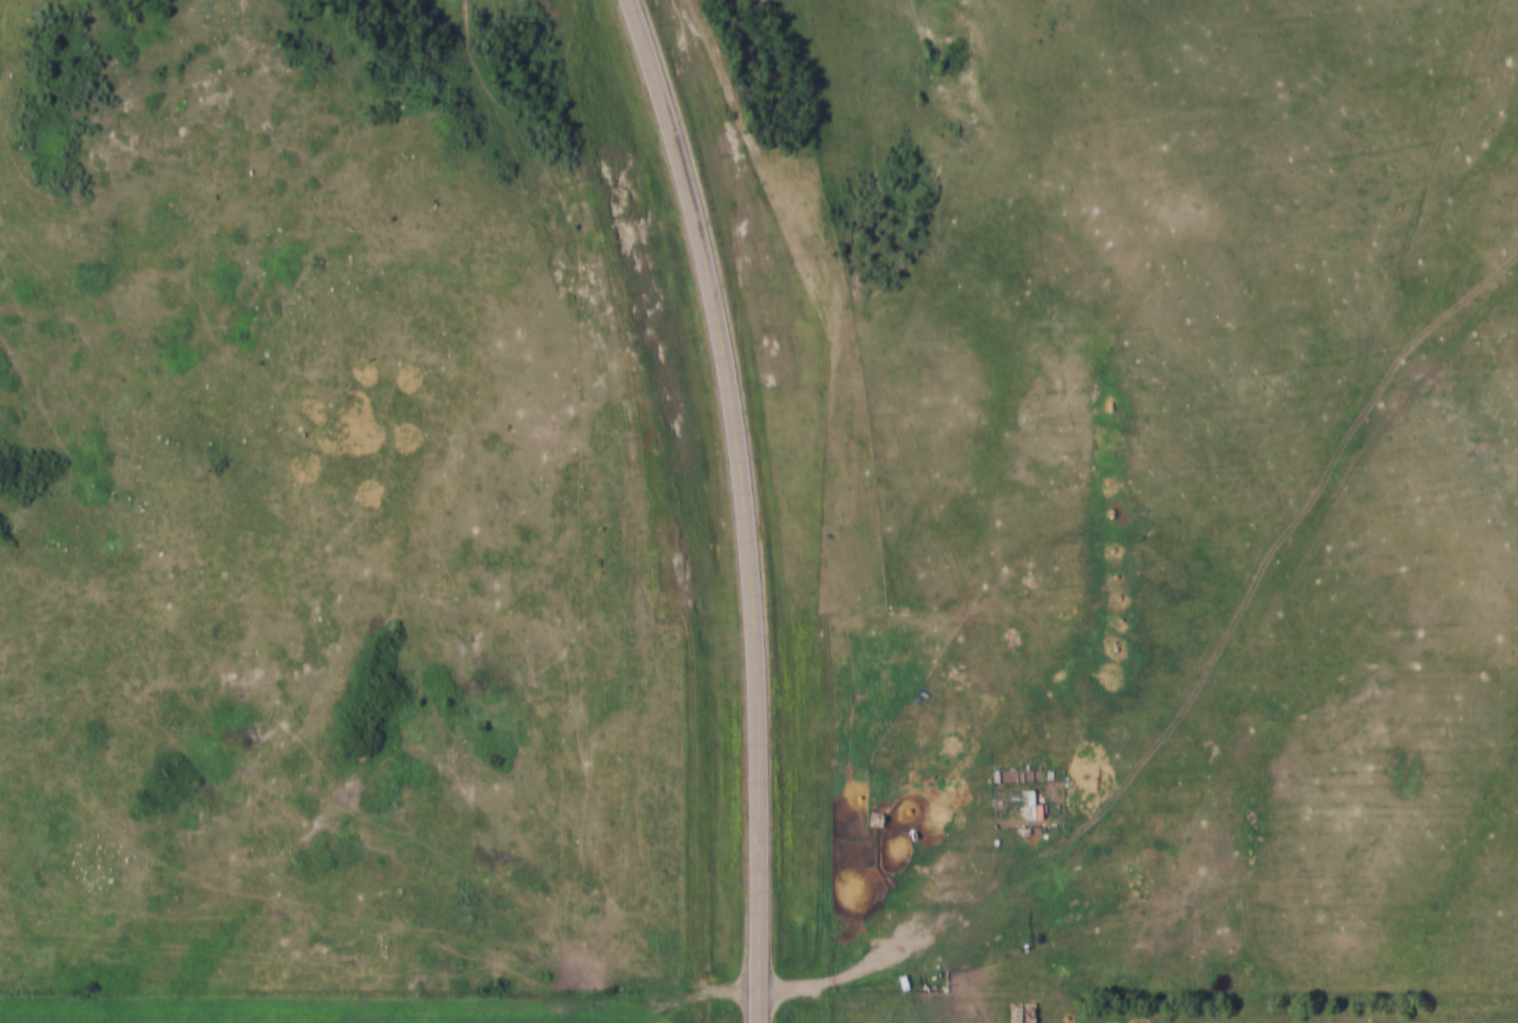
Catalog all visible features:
road: (740, 505)
building: (458, 752)
building: (991, 773)
building: (1027, 802)
building: (1035, 807)
crop: (211, 1018)

